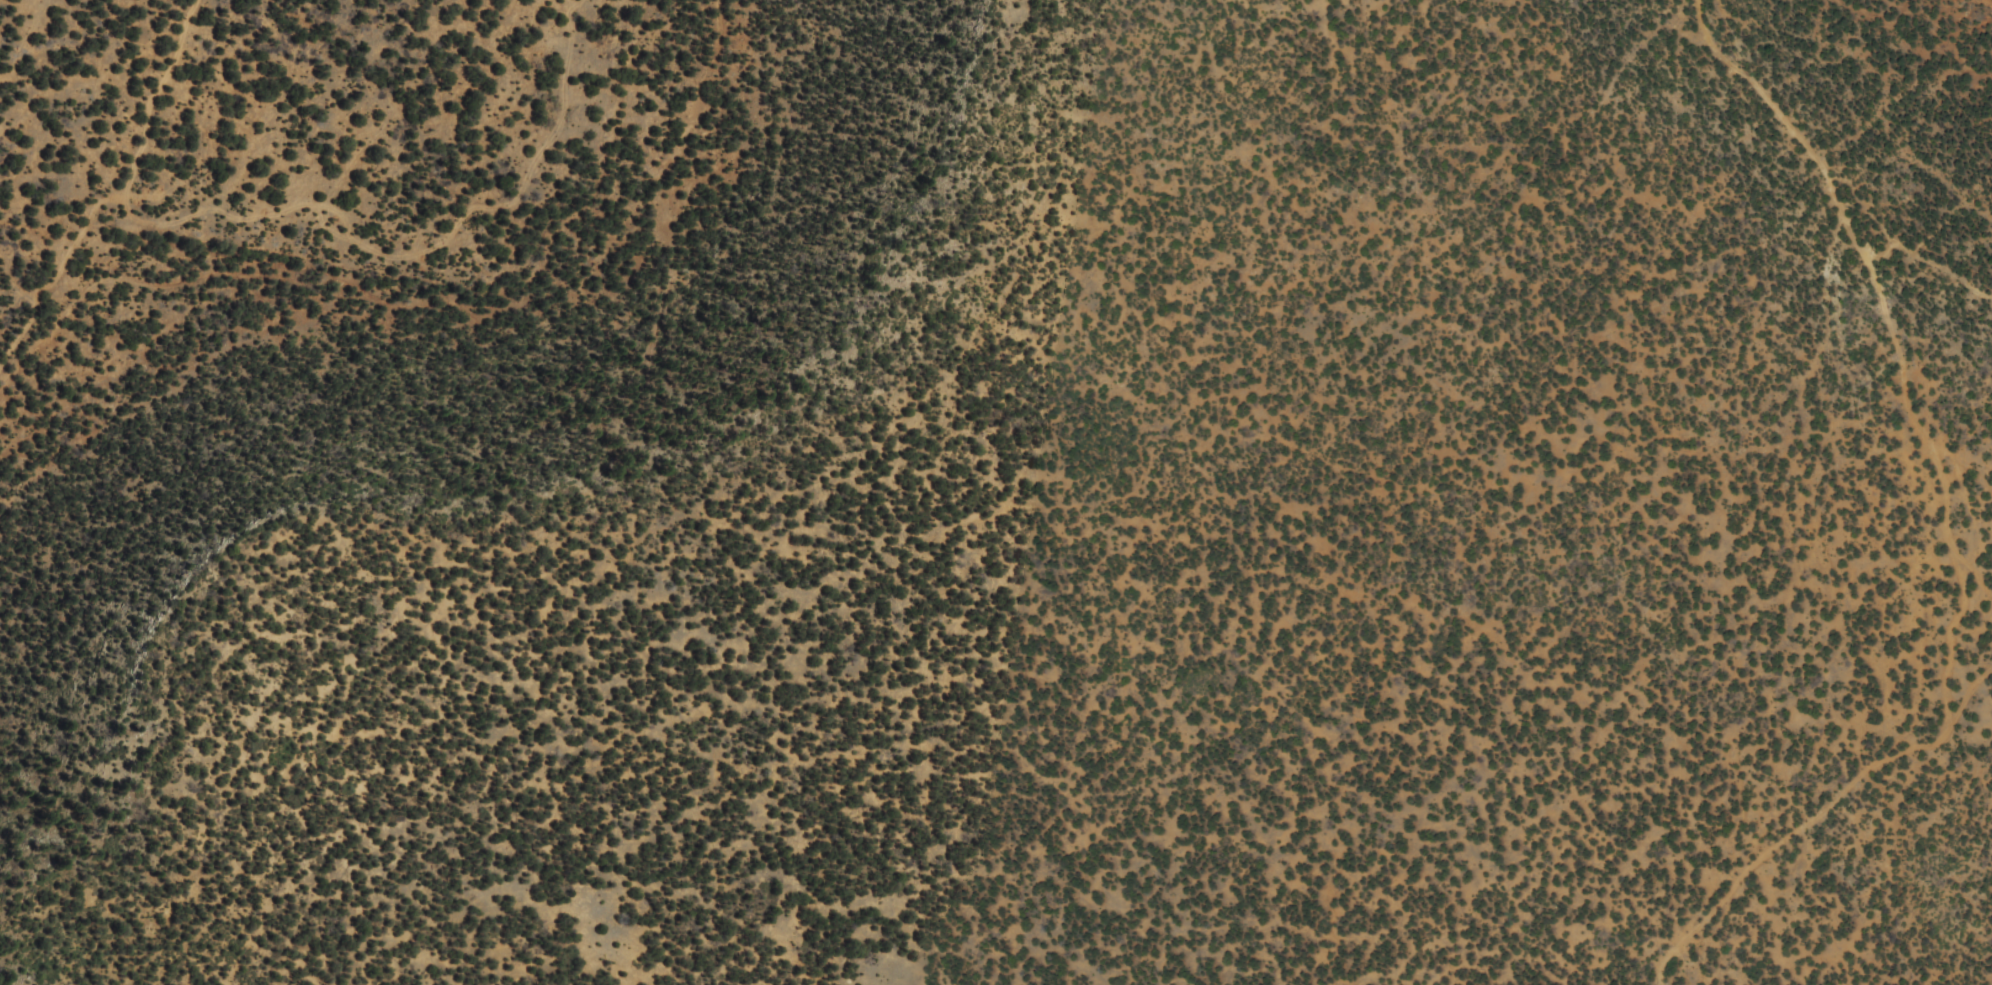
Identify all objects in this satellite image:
road: (1914, 515)

